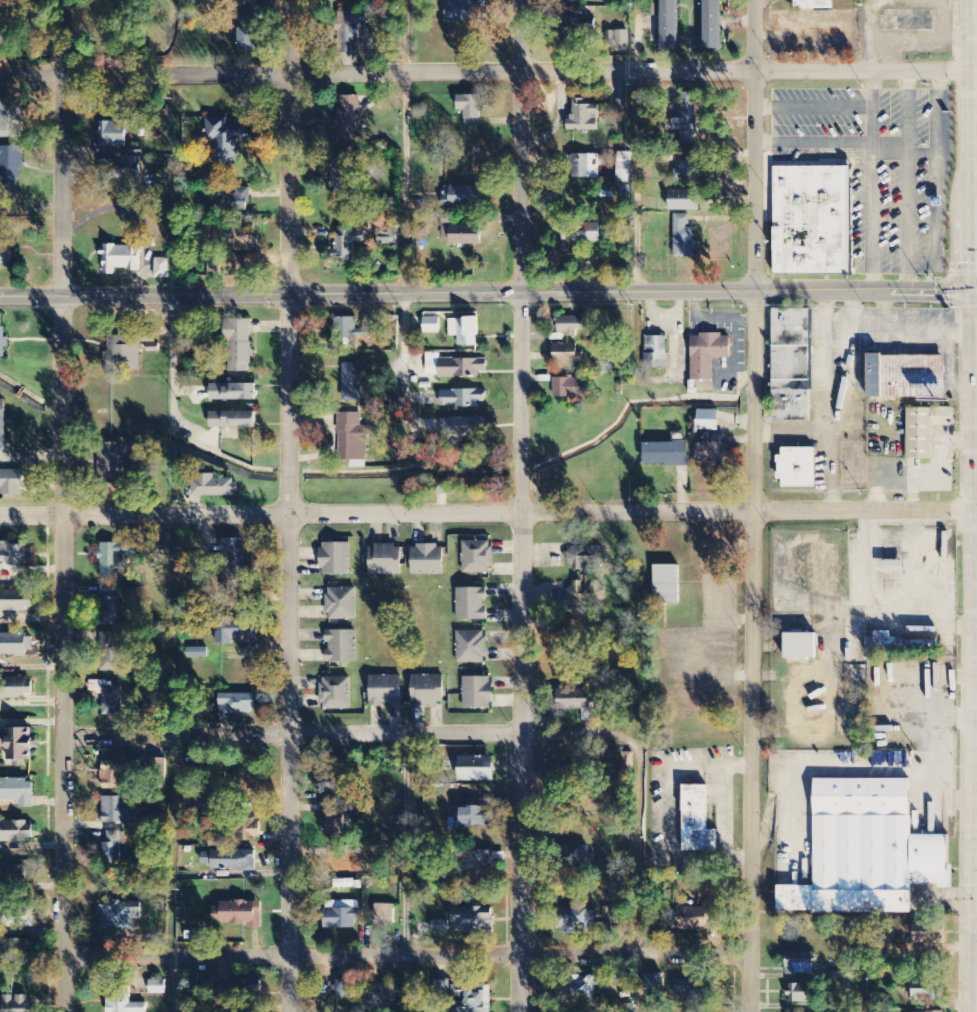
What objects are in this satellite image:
building: (811, 4)
building: (464, 11)
building: (669, 24)
building: (711, 24)
building: (350, 31)
building: (617, 38)
building: (246, 41)
road: (488, 76)
road: (810, 106)
road: (868, 108)
building: (470, 109)
building: (11, 118)
building: (349, 118)
building: (584, 118)
building: (687, 119)
building: (113, 134)
building: (225, 139)
road: (810, 141)
road: (902, 150)
building: (5, 153)
building: (585, 166)
building: (623, 168)
road: (905, 168)
building: (120, 169)
building: (688, 171)
building: (343, 177)
road: (937, 183)
building: (463, 196)
building: (684, 200)
building: (238, 201)
road: (868, 215)
building: (812, 218)
road: (523, 230)
building: (422, 231)
road: (290, 233)
building: (585, 233)
building: (463, 234)
building: (684, 238)
building: (238, 239)
building: (346, 244)
building: (6, 248)
building: (120, 259)
building: (162, 269)
road: (905, 275)
road: (488, 291)
building: (431, 325)
building: (570, 325)
building: (352, 331)
building: (464, 331)
road: (906, 334)
building: (2, 340)
building: (240, 346)
building: (153, 348)
building: (124, 350)
building: (656, 352)
building: (565, 353)
building: (708, 355)
building: (790, 364)
building: (454, 367)
building: (903, 374)
building: (354, 381)
building: (569, 388)
building: (233, 392)
building: (463, 398)
building: (232, 420)
building: (707, 420)
building: (2, 425)
building: (463, 428)
building: (924, 430)
building: (352, 440)
building: (712, 450)
building: (665, 454)
building: (115, 460)
building: (797, 468)
road: (523, 469)
road: (289, 473)
building: (11, 483)
building: (212, 486)
road: (64, 505)
road: (754, 506)
road: (488, 513)
building: (13, 554)
building: (475, 555)
building: (160, 556)
building: (118, 557)
building: (333, 557)
building: (384, 558)
building: (426, 558)
building: (586, 559)
building: (233, 565)
building: (893, 567)
building: (0, 576)
building: (666, 585)
building: (584, 594)
building: (15, 602)
building: (339, 602)
building: (470, 602)
building: (109, 611)
building: (236, 631)
building: (565, 639)
building: (338, 644)
building: (16, 645)
building: (469, 645)
building: (800, 646)
building: (196, 653)
building: (111, 655)
building: (426, 688)
building: (18, 689)
building: (384, 689)
building: (475, 691)
building: (332, 692)
building: (109, 697)
building: (572, 700)
building: (238, 704)
road: (340, 735)
road: (521, 744)
road: (289, 746)
building: (476, 770)
building: (116, 779)
building: (331, 784)
building: (18, 792)
building: (120, 811)
building: (475, 816)
building: (333, 820)
building: (697, 822)
building: (16, 832)
building: (248, 832)
building: (113, 847)
building: (869, 850)
building: (576, 859)
building: (228, 861)
road: (637, 866)
building: (347, 867)
building: (481, 868)
building: (12, 877)
building: (343, 884)
building: (238, 914)
building: (385, 915)
building: (341, 916)
building: (119, 917)
building: (16, 918)
building: (692, 919)
building: (473, 920)
building: (572, 922)
building: (440, 927)
building: (16, 951)
road: (405, 956)
building: (799, 963)
building: (654, 981)
building: (157, 988)
building: (443, 989)
building: (694, 989)
building: (343, 990)
building: (578, 990)
building: (927, 990)
building: (800, 993)
building: (382, 995)
building: (472, 998)
building: (123, 1003)
building: (16, 1004)
building: (941, 1011)

